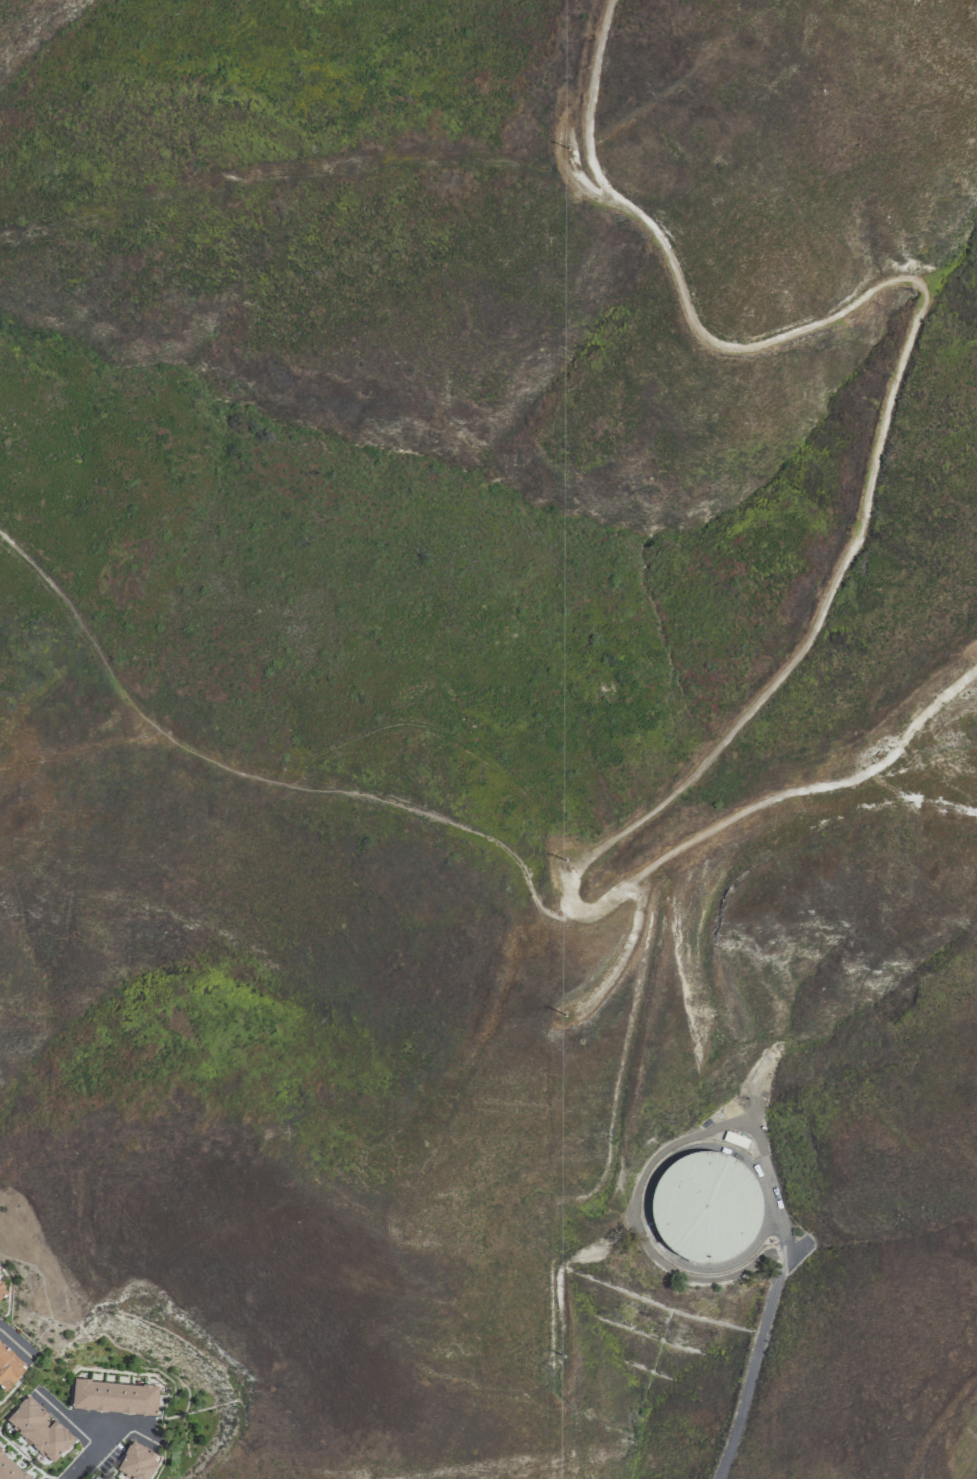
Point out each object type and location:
road: (837, 574)
road: (80, 749)
road: (258, 781)
building: (704, 1208)
storage tank: (704, 1208)
building: (4, 1286)
road: (17, 1349)
road: (753, 1356)
building: (9, 1368)
building: (113, 1397)
building: (38, 1430)
road: (90, 1454)
building: (136, 1462)
building: (10, 1469)
building: (91, 1478)

